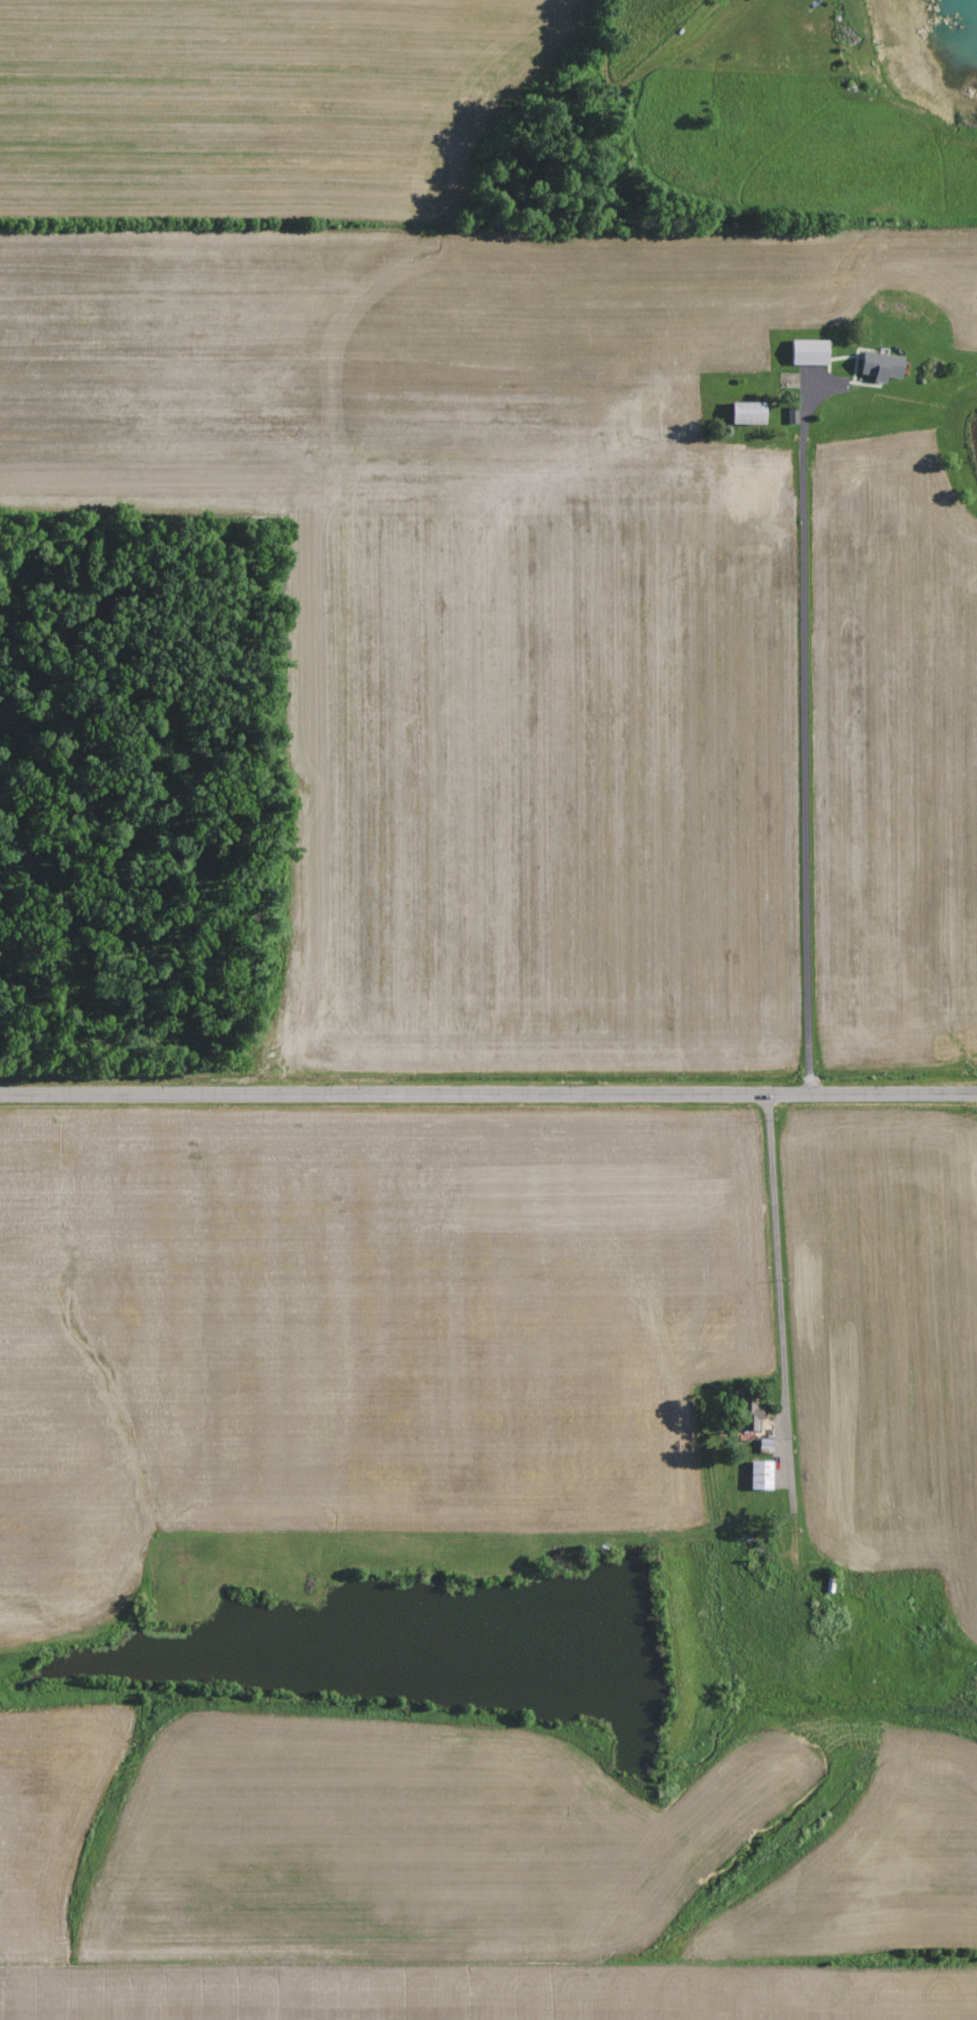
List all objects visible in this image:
crop: (256, 101)
building: (808, 352)
building: (880, 366)
building: (747, 413)
road: (805, 746)
road: (488, 1096)
road: (783, 1325)
building: (749, 1416)
building: (760, 1476)

